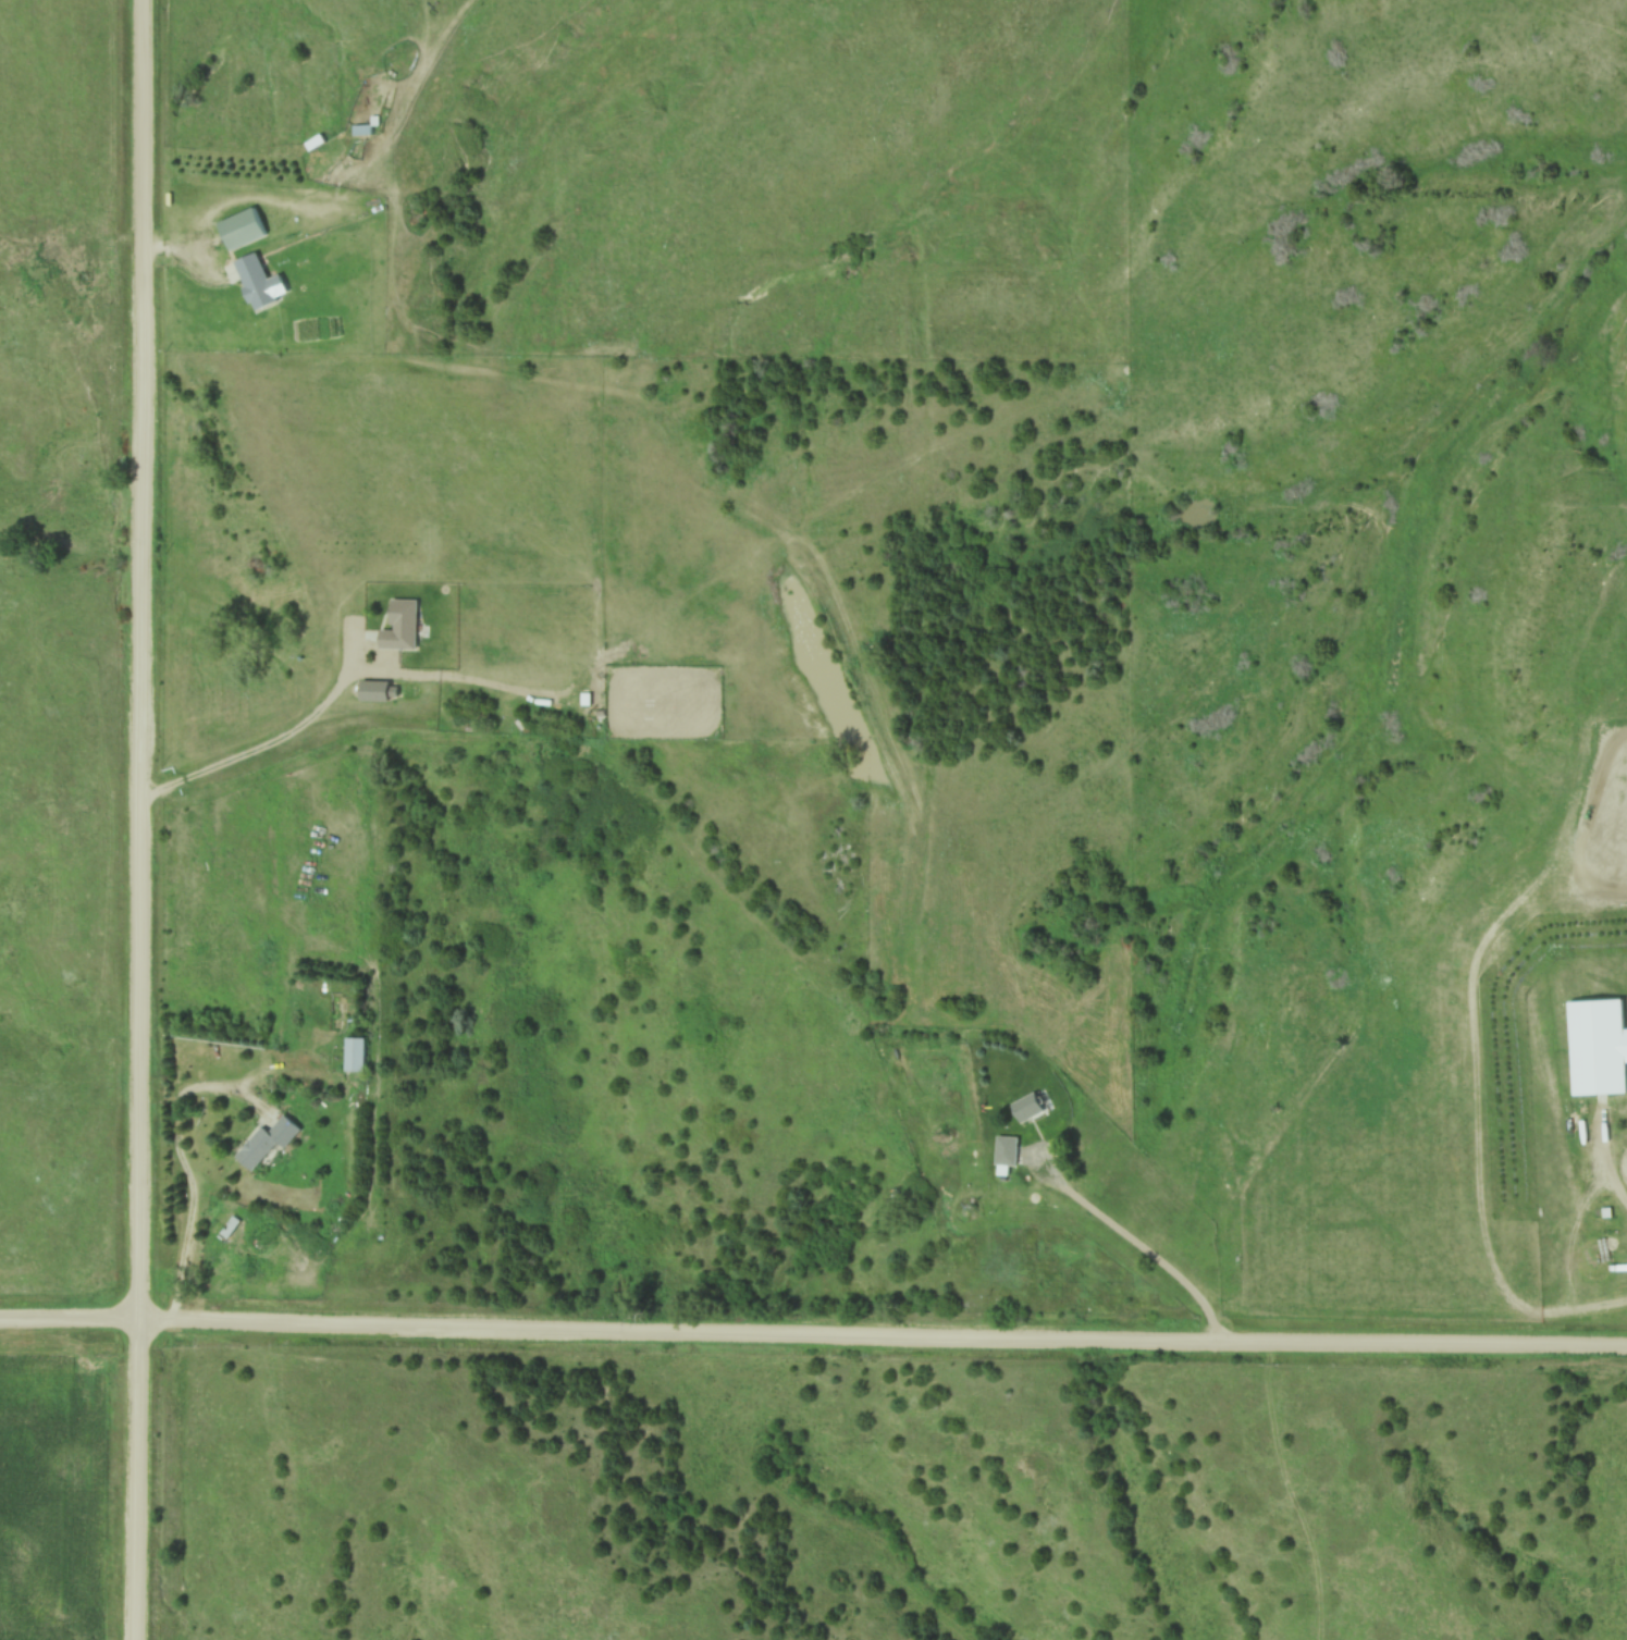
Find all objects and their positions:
building: (361, 130)
building: (241, 230)
building: (254, 282)
building: (399, 626)
road: (261, 743)
road: (138, 819)
building: (1597, 1046)
building: (354, 1053)
road: (205, 1093)
building: (1027, 1108)
building: (266, 1142)
building: (1004, 1150)
road: (1124, 1244)
road: (813, 1341)

